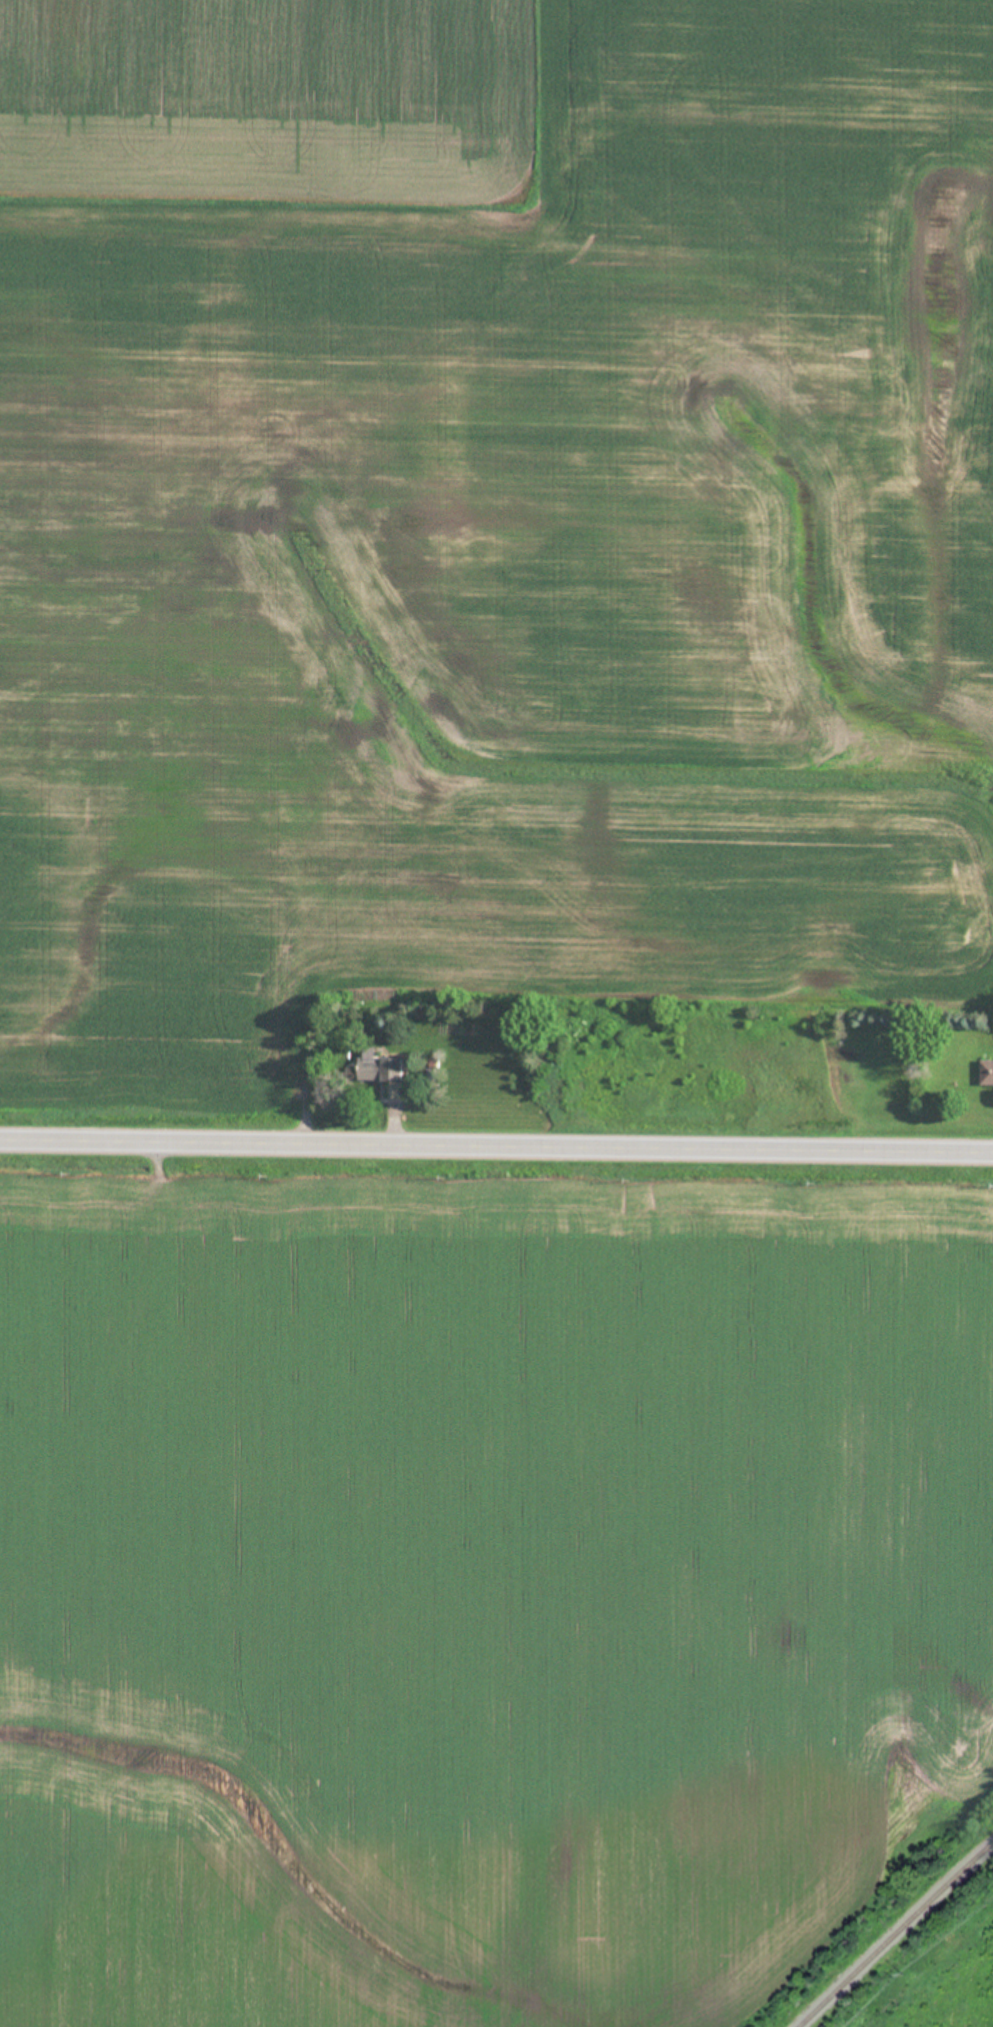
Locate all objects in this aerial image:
building: (378, 1070)
building: (986, 1075)
road: (496, 1127)
railway: (895, 1934)

